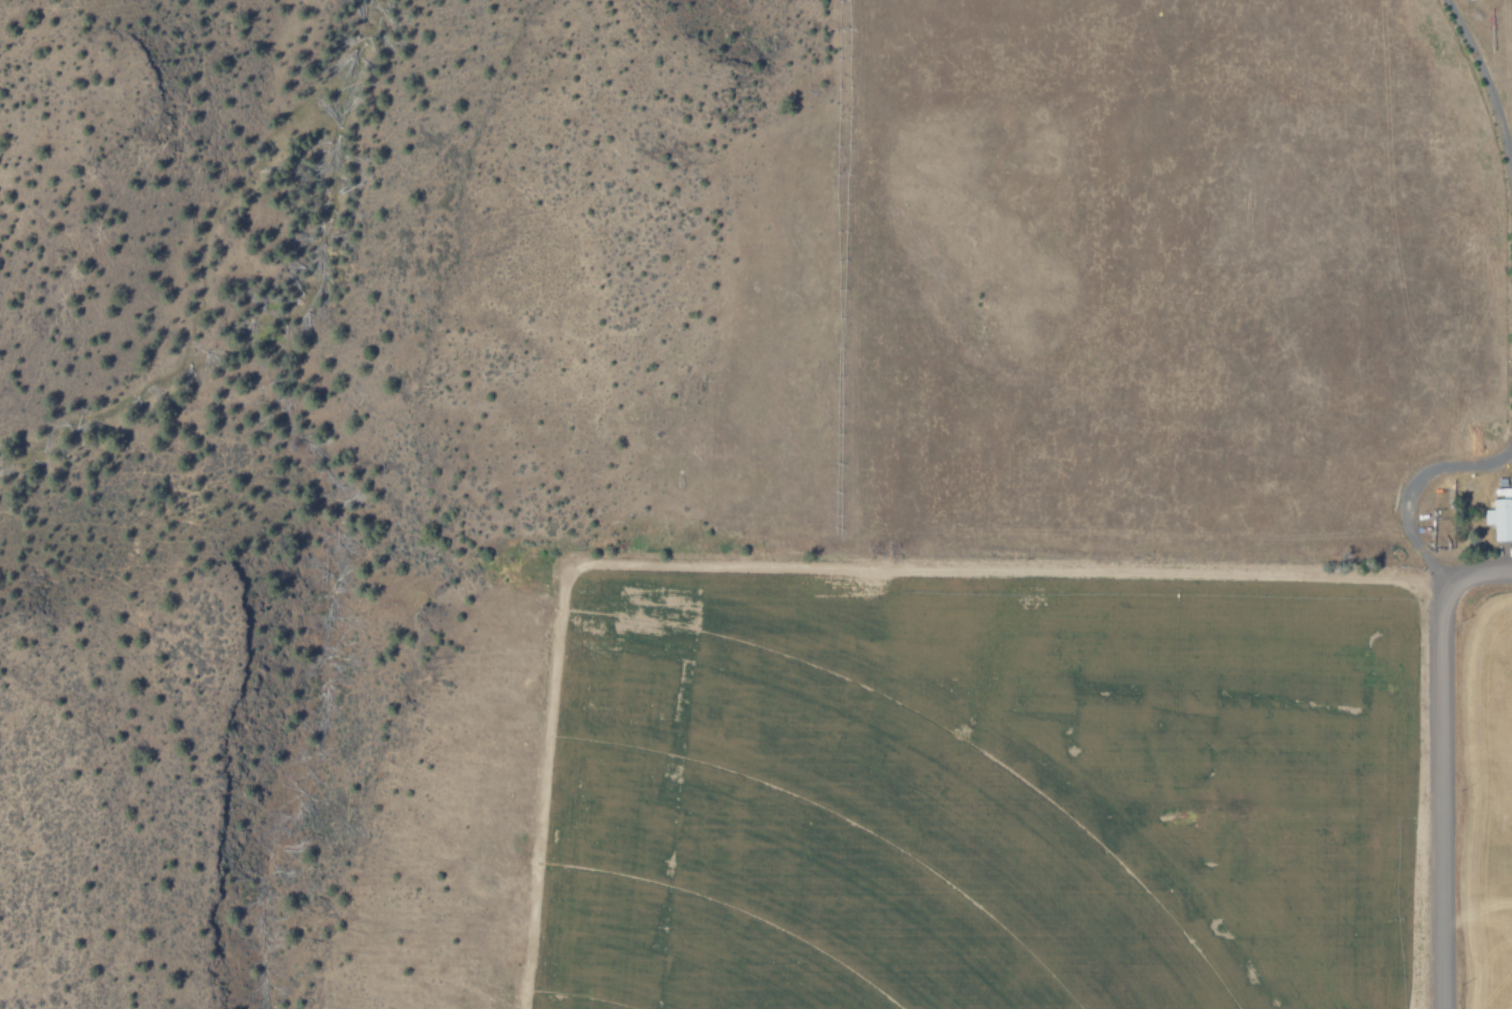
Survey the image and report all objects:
road: (1488, 91)
crop: (1092, 292)
road: (1411, 486)
building: (1500, 518)
road: (1483, 572)
road: (1439, 792)
crop: (554, 820)

